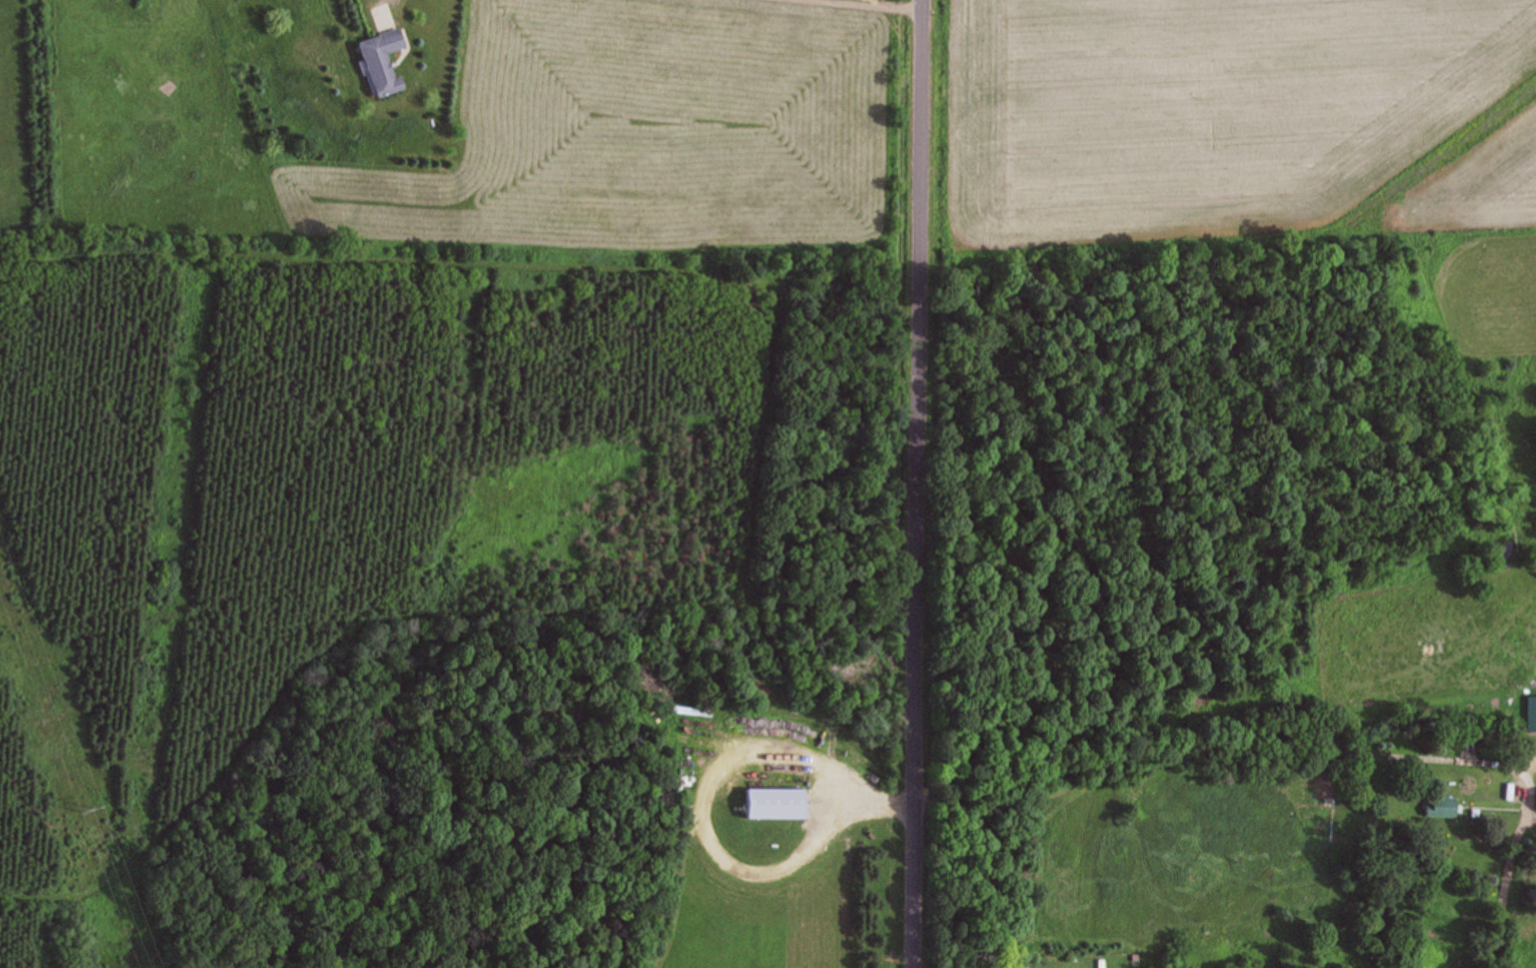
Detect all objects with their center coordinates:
road: (884, 3)
building: (376, 61)
road: (914, 483)
road: (1311, 740)
building: (768, 801)
building: (1535, 801)
building: (1438, 806)
power tower: (84, 809)

